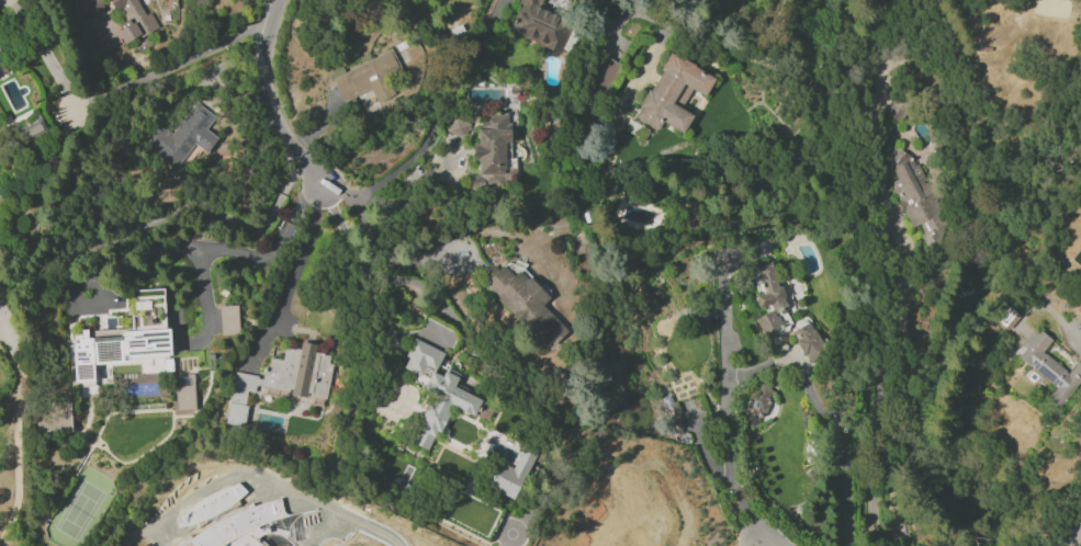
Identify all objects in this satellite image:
road: (264, 5)
building: (88, 7)
building: (134, 20)
building: (538, 25)
building: (0, 50)
building: (0, 56)
building: (604, 75)
road: (143, 77)
building: (370, 78)
building: (672, 93)
road: (269, 101)
building: (896, 110)
road: (431, 123)
building: (455, 127)
building: (34, 130)
building: (181, 136)
building: (491, 147)
building: (921, 205)
building: (637, 214)
road: (378, 243)
road: (181, 247)
road: (292, 275)
road: (368, 280)
building: (767, 287)
building: (527, 305)
building: (227, 319)
building: (766, 323)
road: (1074, 341)
building: (809, 342)
building: (112, 350)
building: (1050, 368)
building: (282, 379)
building: (435, 390)
road: (896, 390)
building: (183, 391)
building: (756, 405)
building: (52, 416)
road: (722, 421)
road: (844, 464)
building: (513, 474)
building: (624, 513)
building: (245, 530)
road: (1069, 532)
road: (766, 542)

